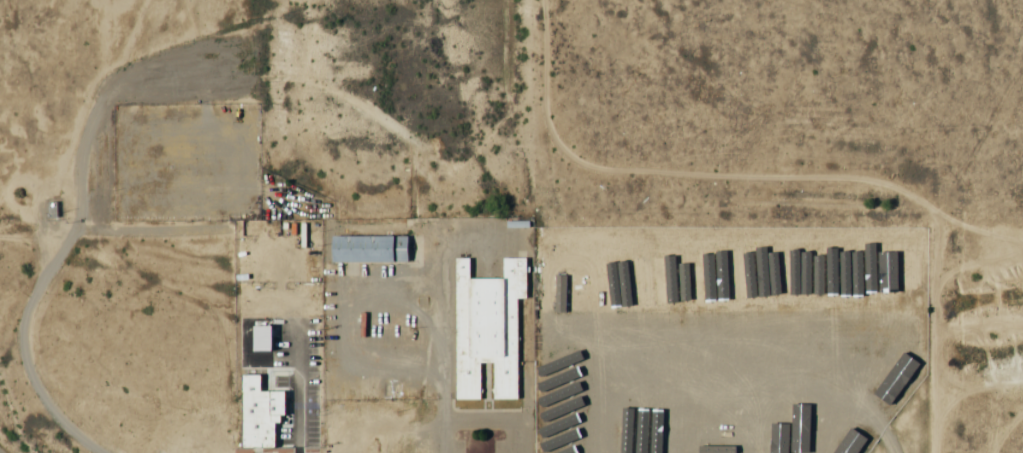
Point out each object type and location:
building: (50, 208)
building: (367, 247)
building: (685, 305)
building: (486, 326)
building: (849, 363)
building: (710, 371)
building: (868, 372)
building: (258, 416)
building: (831, 425)
building: (556, 427)
building: (684, 446)
building: (555, 447)

